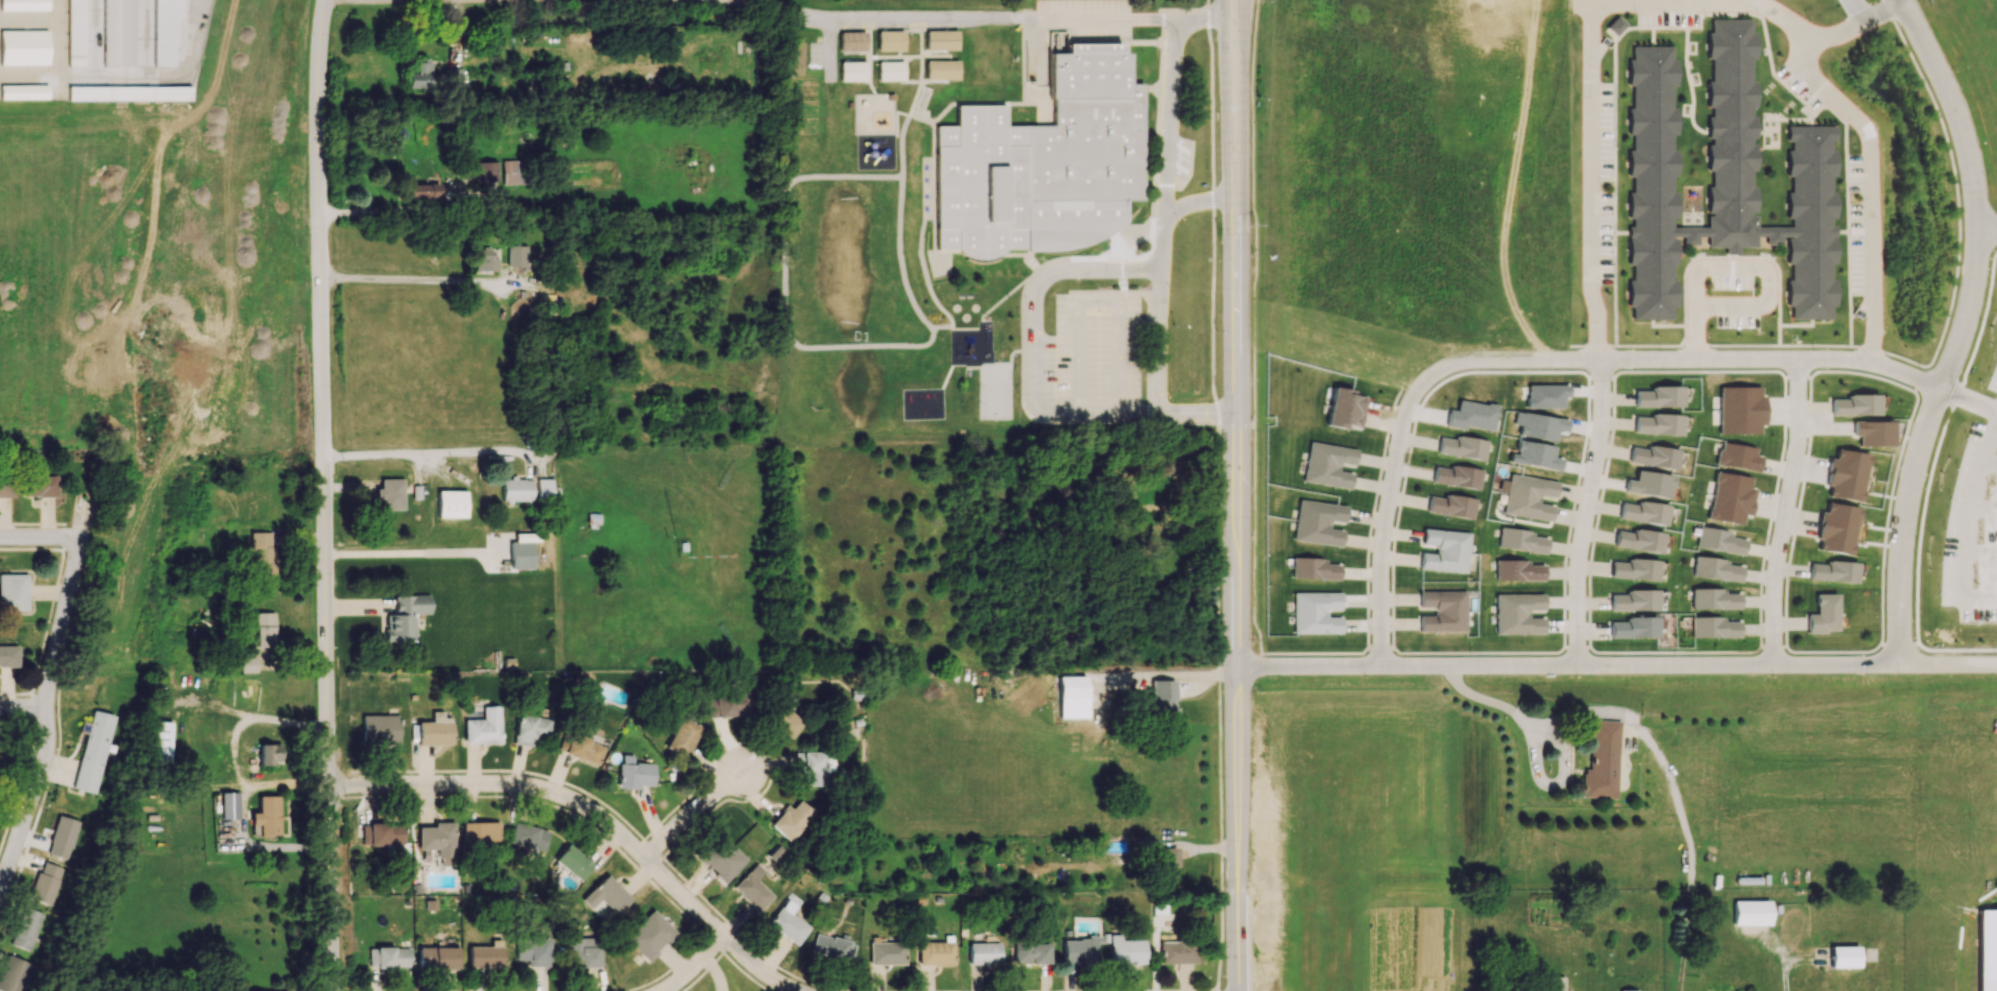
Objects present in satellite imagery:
building: (24, 5)
road: (1855, 9)
road: (1592, 17)
building: (1615, 25)
road: (930, 27)
building: (165, 31)
building: (75, 33)
building: (118, 33)
building: (941, 39)
road: (210, 40)
building: (890, 40)
building: (852, 41)
building: (1057, 42)
building: (24, 47)
building: (941, 69)
building: (852, 71)
building: (890, 71)
building: (434, 77)
road: (100, 79)
building: (24, 91)
building: (130, 93)
road: (1225, 99)
road: (1241, 99)
road: (1956, 109)
road: (1170, 124)
building: (1045, 163)
building: (486, 171)
building: (513, 172)
building: (1722, 179)
road: (1869, 190)
building: (423, 191)
road: (1197, 205)
road: (385, 213)
road: (1988, 229)
building: (517, 256)
building: (486, 260)
road: (1739, 265)
road: (412, 282)
road: (1160, 317)
road: (1688, 359)
road: (1034, 380)
building: (1546, 396)
building: (1659, 397)
road: (1968, 399)
building: (1855, 405)
building: (1346, 408)
building: (1741, 409)
building: (1472, 415)
building: (1658, 424)
building: (1541, 426)
building: (1873, 433)
road: (1920, 443)
building: (1463, 447)
building: (1535, 455)
building: (1654, 457)
building: (1738, 457)
road: (434, 458)
road: (1989, 463)
building: (1328, 465)
building: (1846, 474)
building: (1458, 476)
building: (1162, 483)
building: (1649, 484)
building: (40, 485)
building: (6, 487)
building: (516, 489)
building: (544, 489)
building: (390, 494)
road: (323, 495)
building: (1528, 497)
building: (1731, 498)
building: (451, 504)
building: (1452, 506)
road: (1984, 506)
road: (1585, 511)
road: (1785, 511)
road: (1386, 512)
building: (1643, 512)
road: (1237, 515)
building: (1319, 522)
road: (1968, 525)
building: (1838, 528)
building: (1522, 540)
building: (1640, 540)
building: (1721, 541)
building: (1445, 550)
road: (405, 552)
road: (1981, 552)
building: (263, 553)
building: (521, 555)
building: (1314, 569)
building: (1635, 569)
building: (1717, 569)
building: (1519, 570)
building: (1834, 572)
road: (76, 579)
building: (13, 591)
building: (1715, 599)
building: (1635, 600)
building: (1444, 611)
building: (1316, 612)
building: (1518, 613)
building: (1823, 614)
building: (405, 616)
building: (1635, 627)
building: (1715, 627)
building: (265, 628)
building: (177, 635)
building: (199, 635)
building: (8, 656)
road: (1947, 663)
building: (247, 664)
road: (1565, 665)
building: (1073, 686)
building: (236, 688)
building: (1165, 701)
building: (730, 705)
road: (22, 707)
building: (785, 720)
building: (483, 727)
building: (379, 729)
building: (530, 729)
building: (434, 730)
building: (682, 737)
building: (160, 742)
road: (1656, 750)
building: (93, 751)
building: (269, 754)
building: (1601, 761)
building: (817, 767)
building: (634, 775)
road: (554, 794)
road: (36, 795)
building: (229, 805)
building: (267, 816)
road: (694, 816)
building: (790, 820)
building: (480, 832)
building: (382, 834)
building: (61, 837)
building: (528, 837)
building: (438, 841)
building: (721, 858)
building: (573, 861)
road: (2, 879)
building: (43, 884)
road: (2, 885)
building: (752, 888)
building: (606, 895)
road: (1237, 912)
building: (1751, 913)
building: (787, 925)
building: (25, 928)
building: (648, 935)
building: (833, 947)
building: (1175, 948)
building: (531, 949)
building: (1125, 950)
building: (1987, 950)
building: (984, 951)
building: (1079, 951)
building: (583, 952)
building: (886, 953)
building: (936, 953)
building: (1031, 953)
building: (484, 956)
building: (389, 957)
building: (1844, 957)
building: (437, 958)
road: (760, 966)
road: (699, 967)
road: (1790, 970)
building: (13, 974)
building: (1554, 983)
building: (1626, 990)

